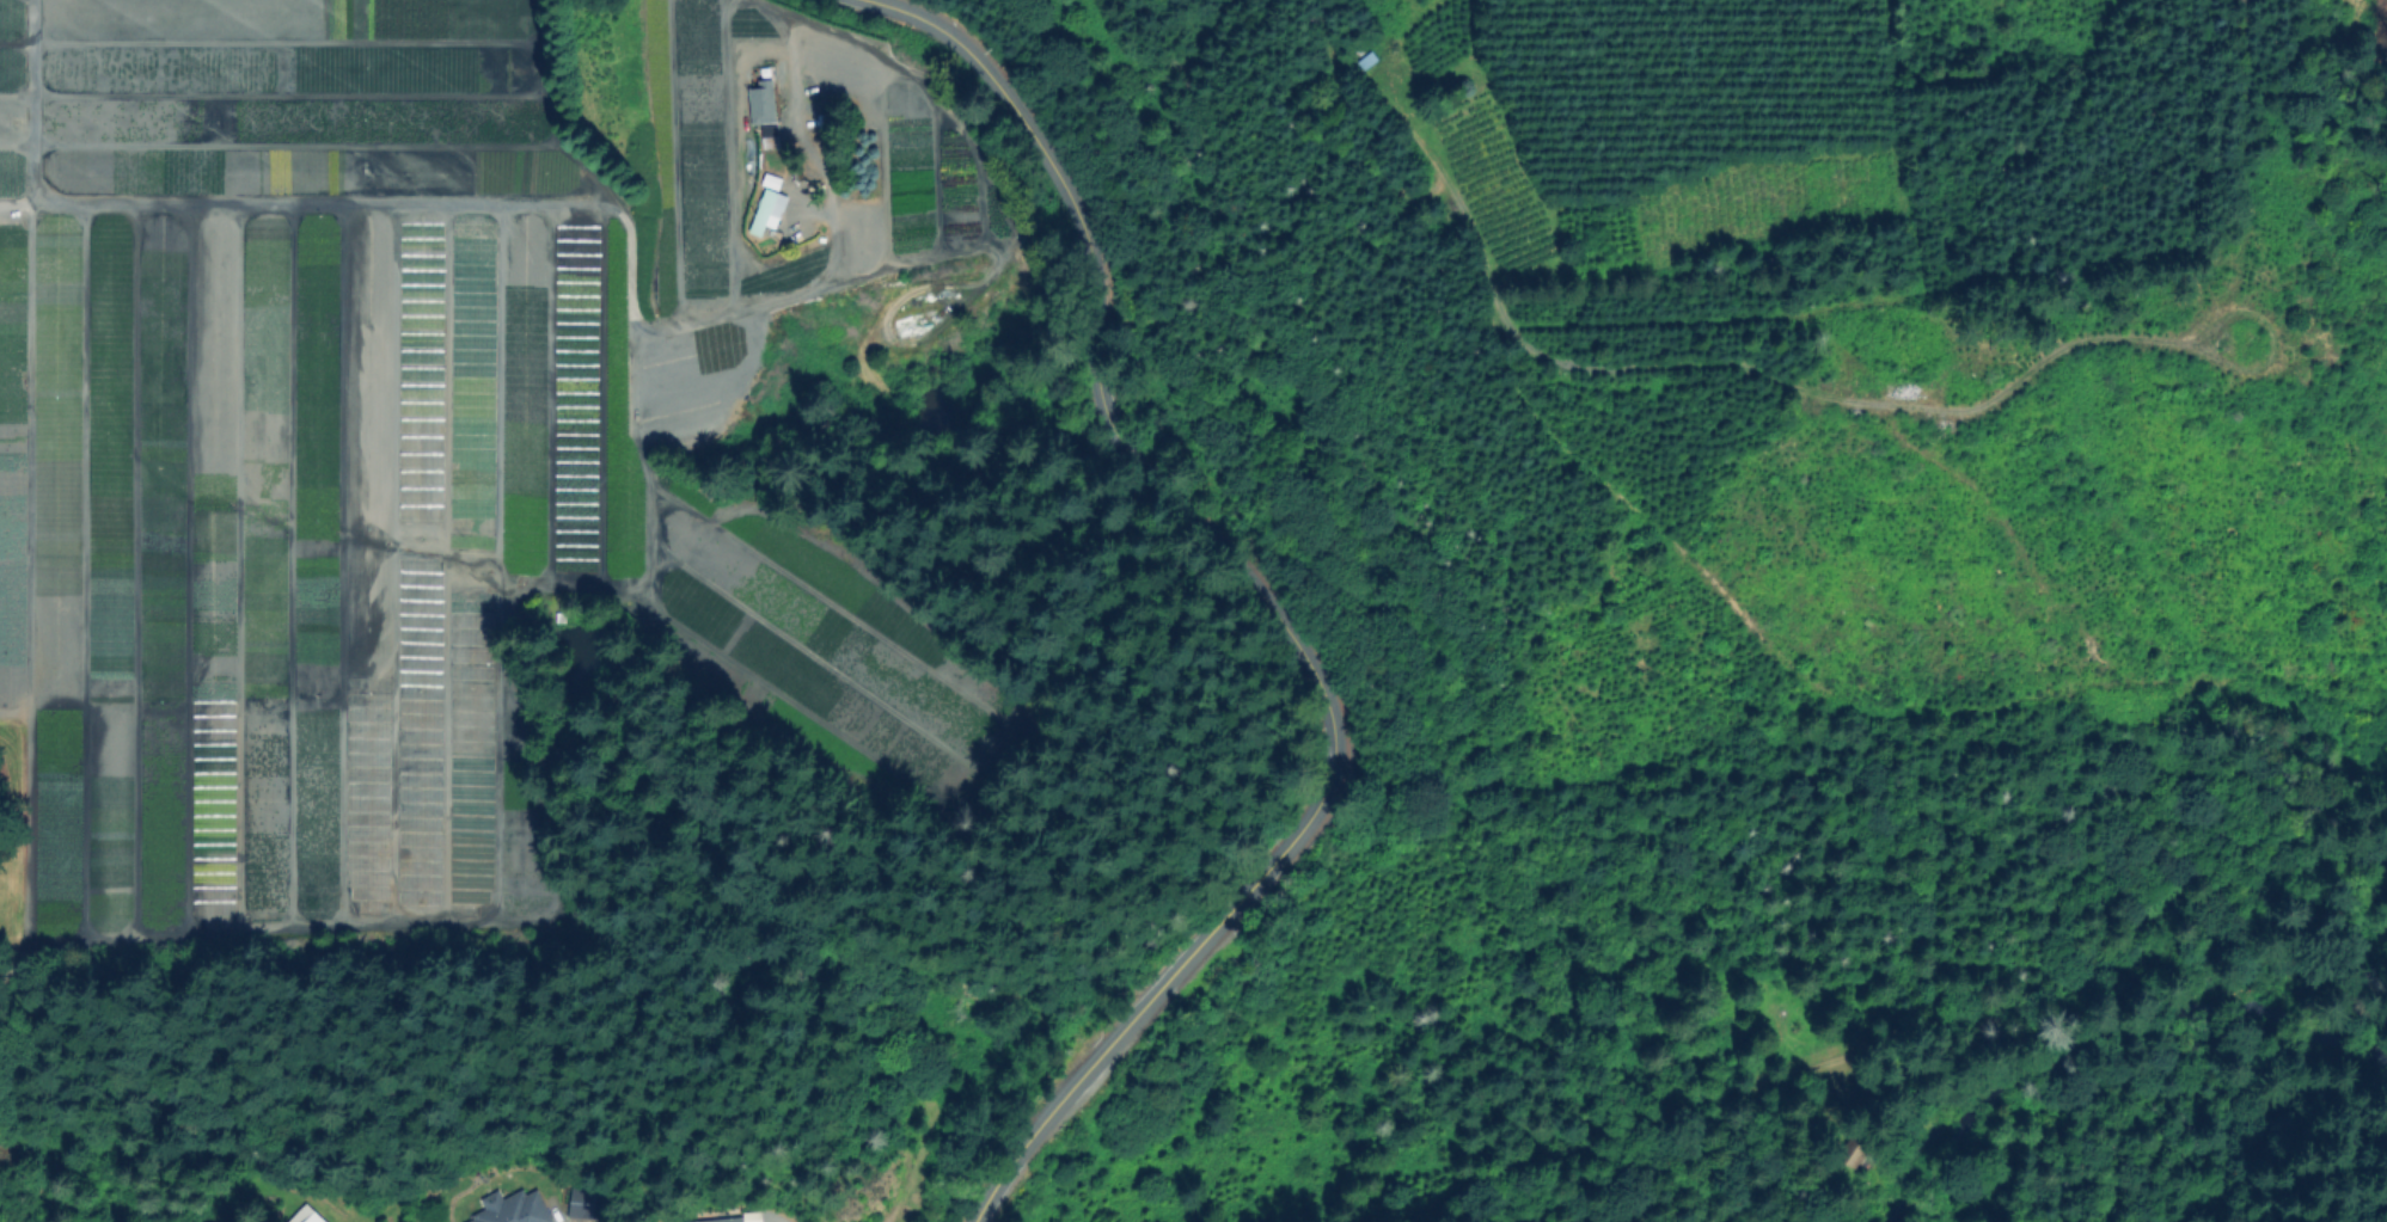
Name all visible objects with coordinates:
building: (761, 110)
road: (740, 118)
building: (766, 210)
road: (1265, 603)
road: (2375, 888)
road: (1862, 1048)
building: (1855, 1152)
building: (595, 1202)
building: (515, 1209)
building: (317, 1218)
building: (721, 1220)

